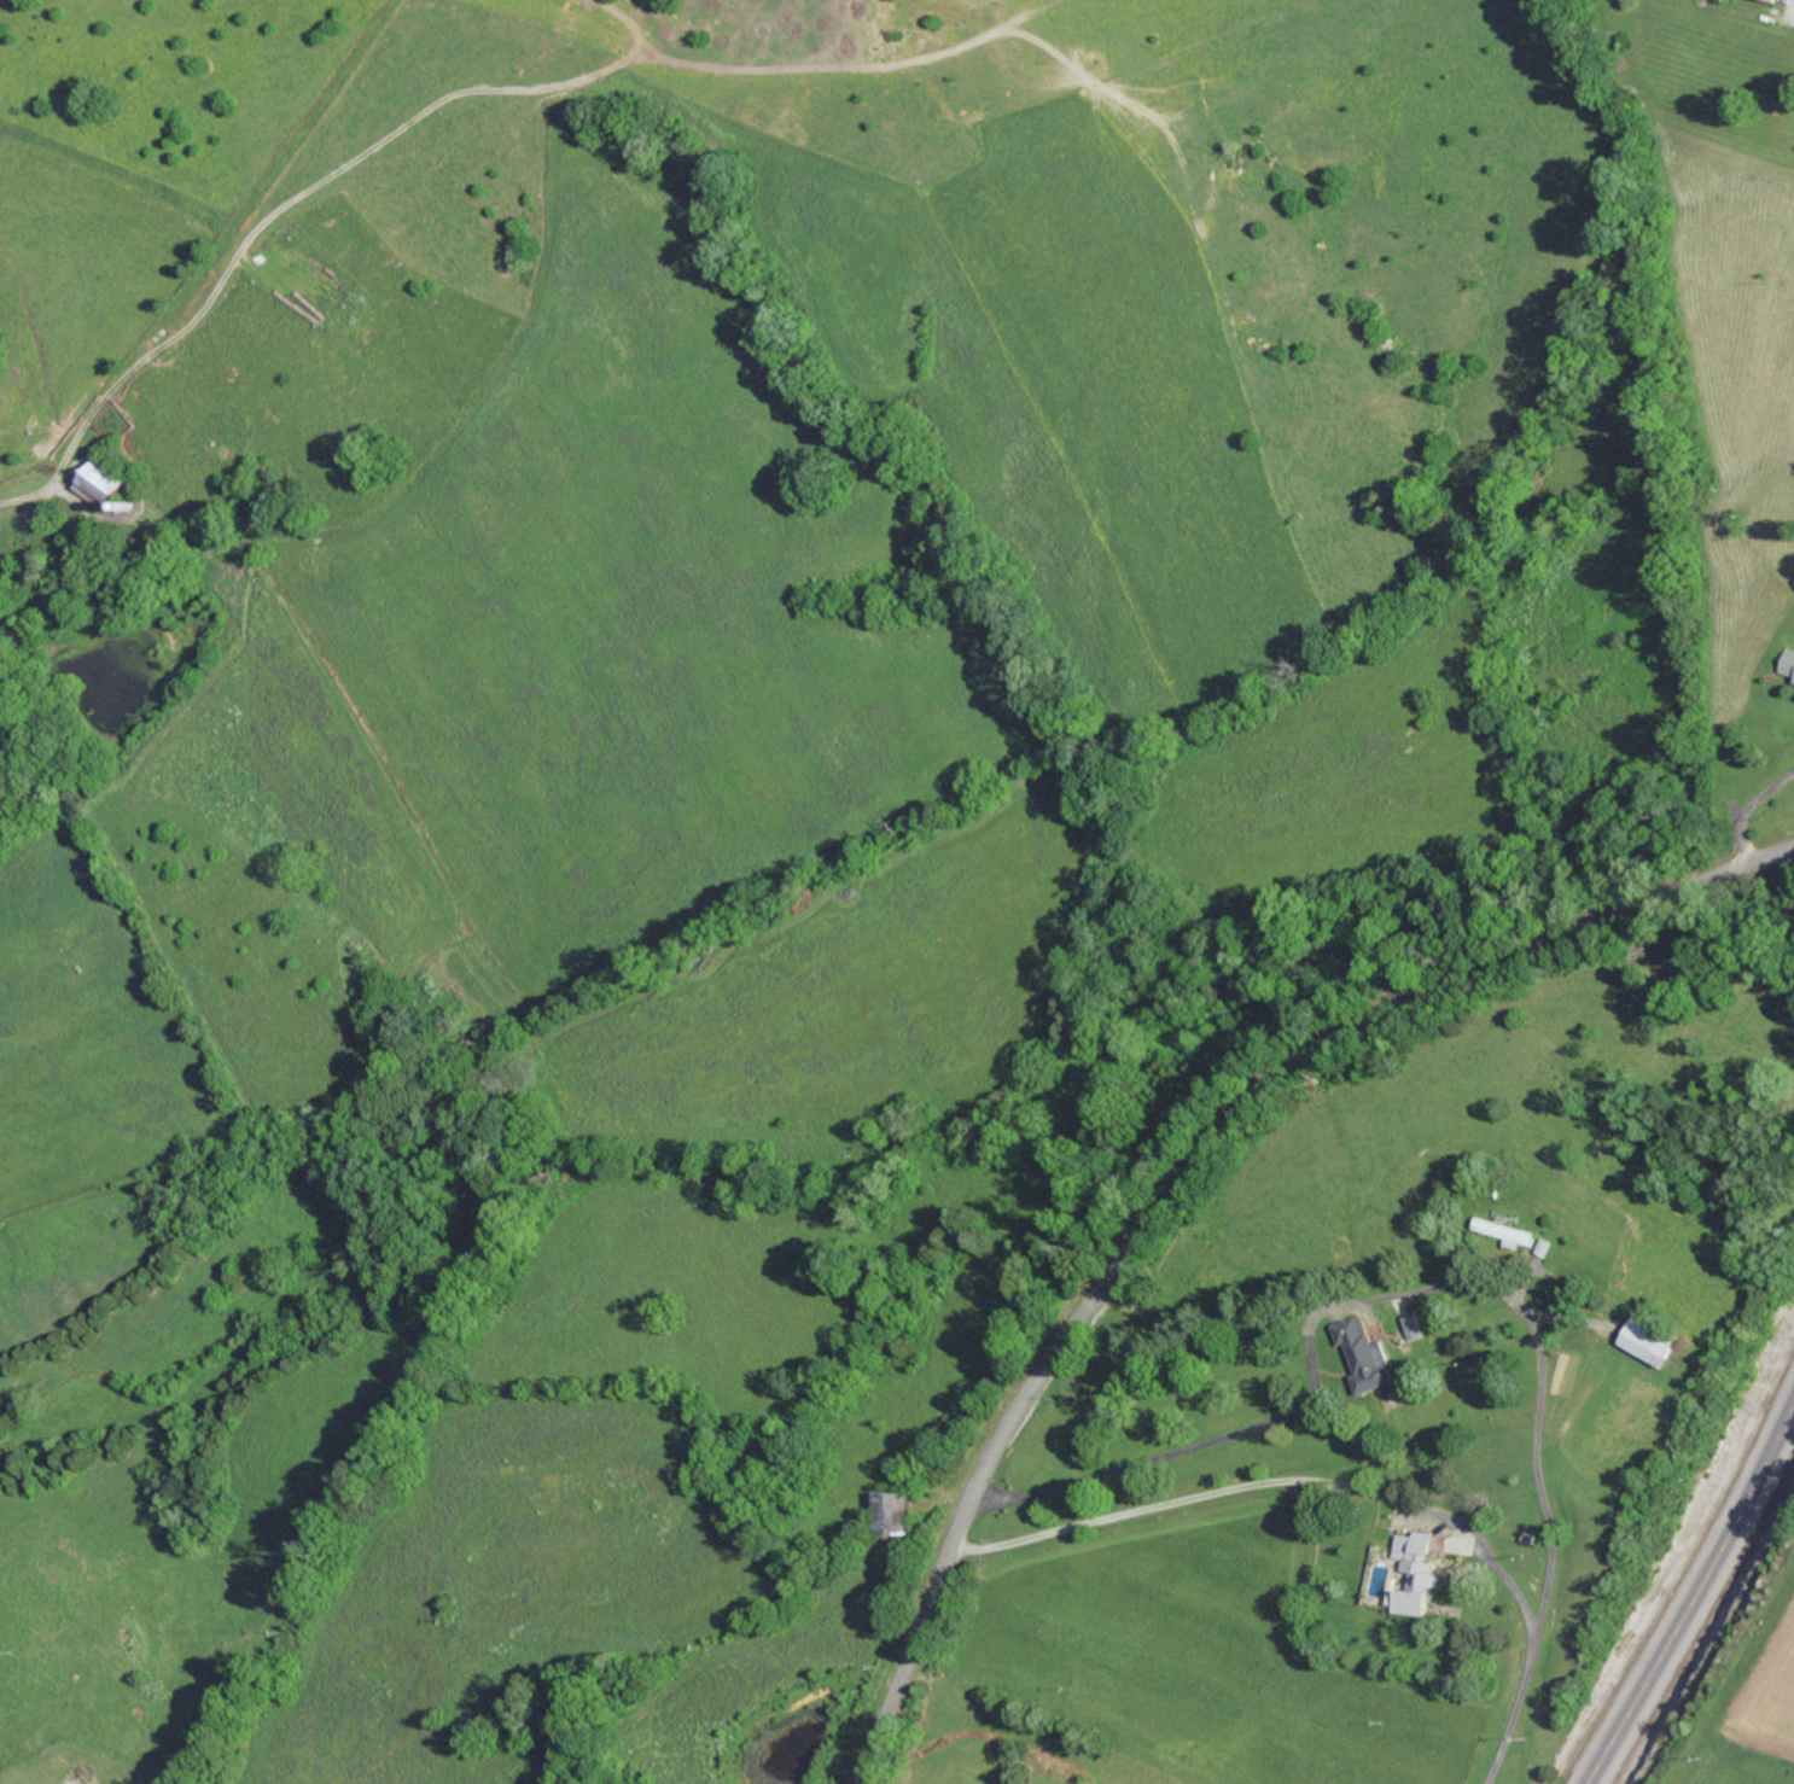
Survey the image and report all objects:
building: (1776, 0)
building: (99, 482)
building: (1789, 661)
road: (1190, 1174)
building: (1508, 1231)
road: (1445, 1281)
building: (1415, 1327)
building: (1650, 1340)
building: (1368, 1356)
road: (1270, 1481)
building: (899, 1514)
building: (1417, 1570)
road: (1688, 1581)

